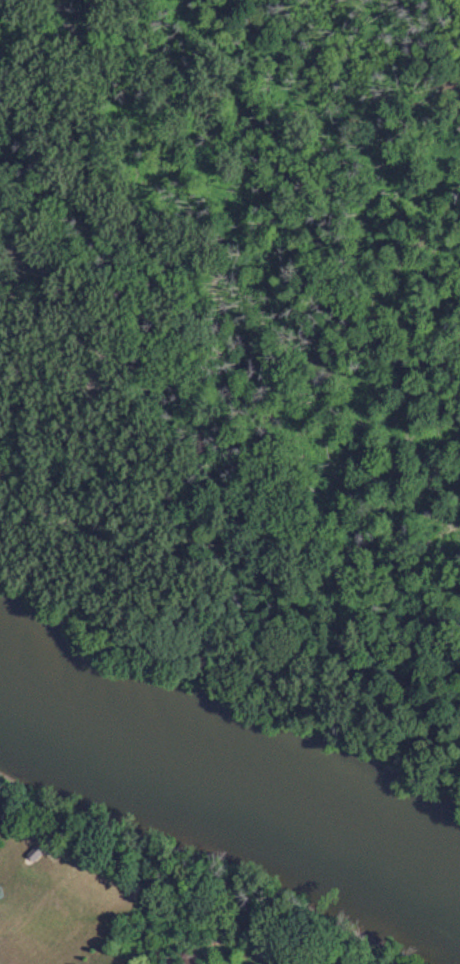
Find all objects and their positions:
river: (229, 787)

